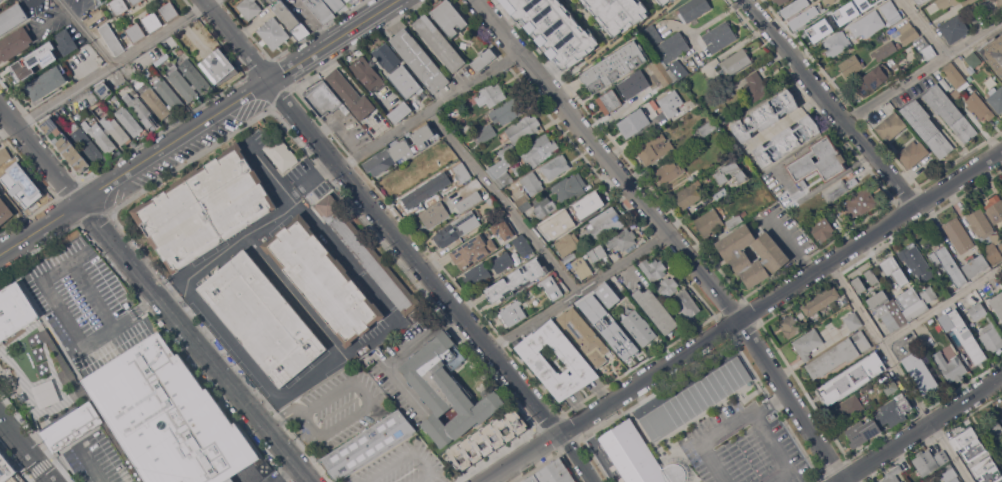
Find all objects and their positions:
building: (0, 0)
building: (347, 0)
building: (671, 0)
building: (136, 1)
building: (664, 1)
building: (781, 1)
building: (832, 1)
building: (921, 2)
building: (999, 2)
building: (336, 4)
building: (946, 4)
building: (118, 6)
building: (249, 8)
building: (889, 8)
building: (792, 9)
building: (850, 9)
building: (168, 10)
building: (321, 10)
building: (694, 10)
building: (973, 11)
building: (617, 13)
road: (718, 16)
building: (12, 17)
building: (449, 17)
building: (290, 18)
road: (312, 20)
building: (799, 20)
building: (152, 21)
building: (868, 24)
building: (816, 28)
road: (922, 28)
building: (554, 29)
building: (954, 29)
road: (688, 30)
building: (135, 32)
building: (273, 32)
road: (87, 33)
building: (908, 33)
building: (651, 35)
building: (720, 36)
building: (111, 38)
road: (235, 39)
road: (331, 39)
building: (67, 41)
building: (15, 42)
building: (440, 43)
building: (837, 44)
building: (673, 46)
building: (925, 47)
building: (886, 50)
building: (993, 52)
building: (483, 59)
building: (973, 60)
building: (420, 61)
building: (736, 62)
building: (31, 63)
building: (851, 65)
building: (219, 66)
building: (614, 66)
road: (108, 69)
building: (678, 69)
road: (923, 70)
building: (398, 71)
building: (664, 72)
building: (367, 73)
building: (195, 75)
building: (956, 79)
building: (872, 80)
building: (135, 81)
building: (990, 81)
building: (181, 82)
building: (46, 83)
building: (631, 85)
building: (755, 87)
building: (103, 89)
building: (169, 94)
building: (350, 94)
building: (491, 95)
building: (323, 98)
building: (996, 99)
building: (609, 101)
building: (408, 102)
building: (156, 103)
building: (671, 103)
road: (829, 103)
building: (979, 106)
building: (140, 109)
building: (508, 110)
road: (433, 111)
building: (400, 112)
building: (950, 112)
building: (82, 114)
building: (765, 115)
building: (723, 116)
building: (129, 120)
building: (634, 122)
road: (784, 122)
building: (891, 125)
building: (115, 128)
building: (523, 128)
building: (928, 128)
building: (705, 130)
building: (486, 133)
building: (100, 136)
building: (786, 140)
building: (84, 141)
building: (65, 144)
building: (654, 148)
building: (402, 149)
building: (505, 149)
building: (538, 149)
building: (913, 153)
building: (281, 154)
building: (4, 155)
building: (818, 162)
road: (133, 166)
building: (555, 166)
road: (268, 168)
building: (501, 171)
building: (731, 171)
building: (463, 172)
building: (670, 172)
building: (691, 177)
building: (532, 182)
building: (22, 185)
building: (569, 186)
building: (838, 188)
building: (426, 190)
building: (0, 193)
building: (688, 195)
building: (522, 200)
building: (469, 201)
building: (860, 202)
road: (505, 203)
building: (526, 206)
building: (544, 206)
building: (205, 208)
building: (994, 208)
building: (5, 211)
building: (434, 214)
building: (573, 215)
building: (734, 220)
building: (709, 222)
building: (606, 223)
building: (457, 228)
building: (504, 228)
building: (822, 228)
road: (254, 233)
road: (669, 233)
building: (985, 233)
building: (958, 234)
building: (622, 239)
building: (568, 243)
road: (787, 244)
building: (523, 246)
building: (1001, 247)
building: (473, 250)
building: (597, 252)
building: (368, 255)
building: (774, 255)
building: (503, 262)
building: (916, 262)
building: (949, 265)
building: (976, 266)
building: (582, 267)
building: (653, 268)
building: (894, 270)
building: (479, 273)
building: (872, 276)
road: (434, 278)
building: (323, 279)
building: (945, 279)
building: (516, 280)
building: (859, 284)
building: (551, 287)
building: (668, 287)
road: (156, 292)
road: (583, 292)
building: (927, 292)
building: (608, 294)
road: (91, 295)
road: (295, 297)
building: (595, 299)
building: (821, 301)
building: (909, 302)
building: (685, 303)
building: (997, 303)
road: (942, 304)
building: (888, 309)
building: (15, 310)
building: (656, 310)
building: (977, 310)
building: (513, 313)
building: (949, 315)
road: (742, 317)
building: (263, 318)
building: (853, 321)
building: (790, 326)
building: (639, 327)
road: (73, 330)
building: (615, 334)
building: (584, 335)
building: (943, 336)
building: (991, 339)
building: (957, 340)
building: (808, 343)
building: (976, 351)
road: (398, 352)
building: (839, 354)
building: (47, 356)
road: (343, 356)
building: (574, 359)
building: (876, 365)
building: (951, 365)
road: (900, 371)
building: (921, 373)
building: (840, 385)
building: (890, 386)
building: (447, 389)
road: (362, 391)
building: (696, 398)
building: (849, 408)
building: (894, 411)
road: (285, 413)
building: (146, 415)
building: (1001, 416)
road: (310, 424)
road: (920, 429)
building: (995, 429)
road: (726, 430)
building: (862, 431)
building: (488, 438)
building: (968, 443)
building: (368, 445)
road: (27, 447)
road: (404, 455)
building: (640, 457)
building: (941, 457)
building: (926, 463)
road: (92, 465)
building: (6, 468)
building: (265, 468)
road: (283, 471)
building: (948, 472)
building: (552, 473)
building: (893, 474)
building: (993, 474)
building: (230, 480)

